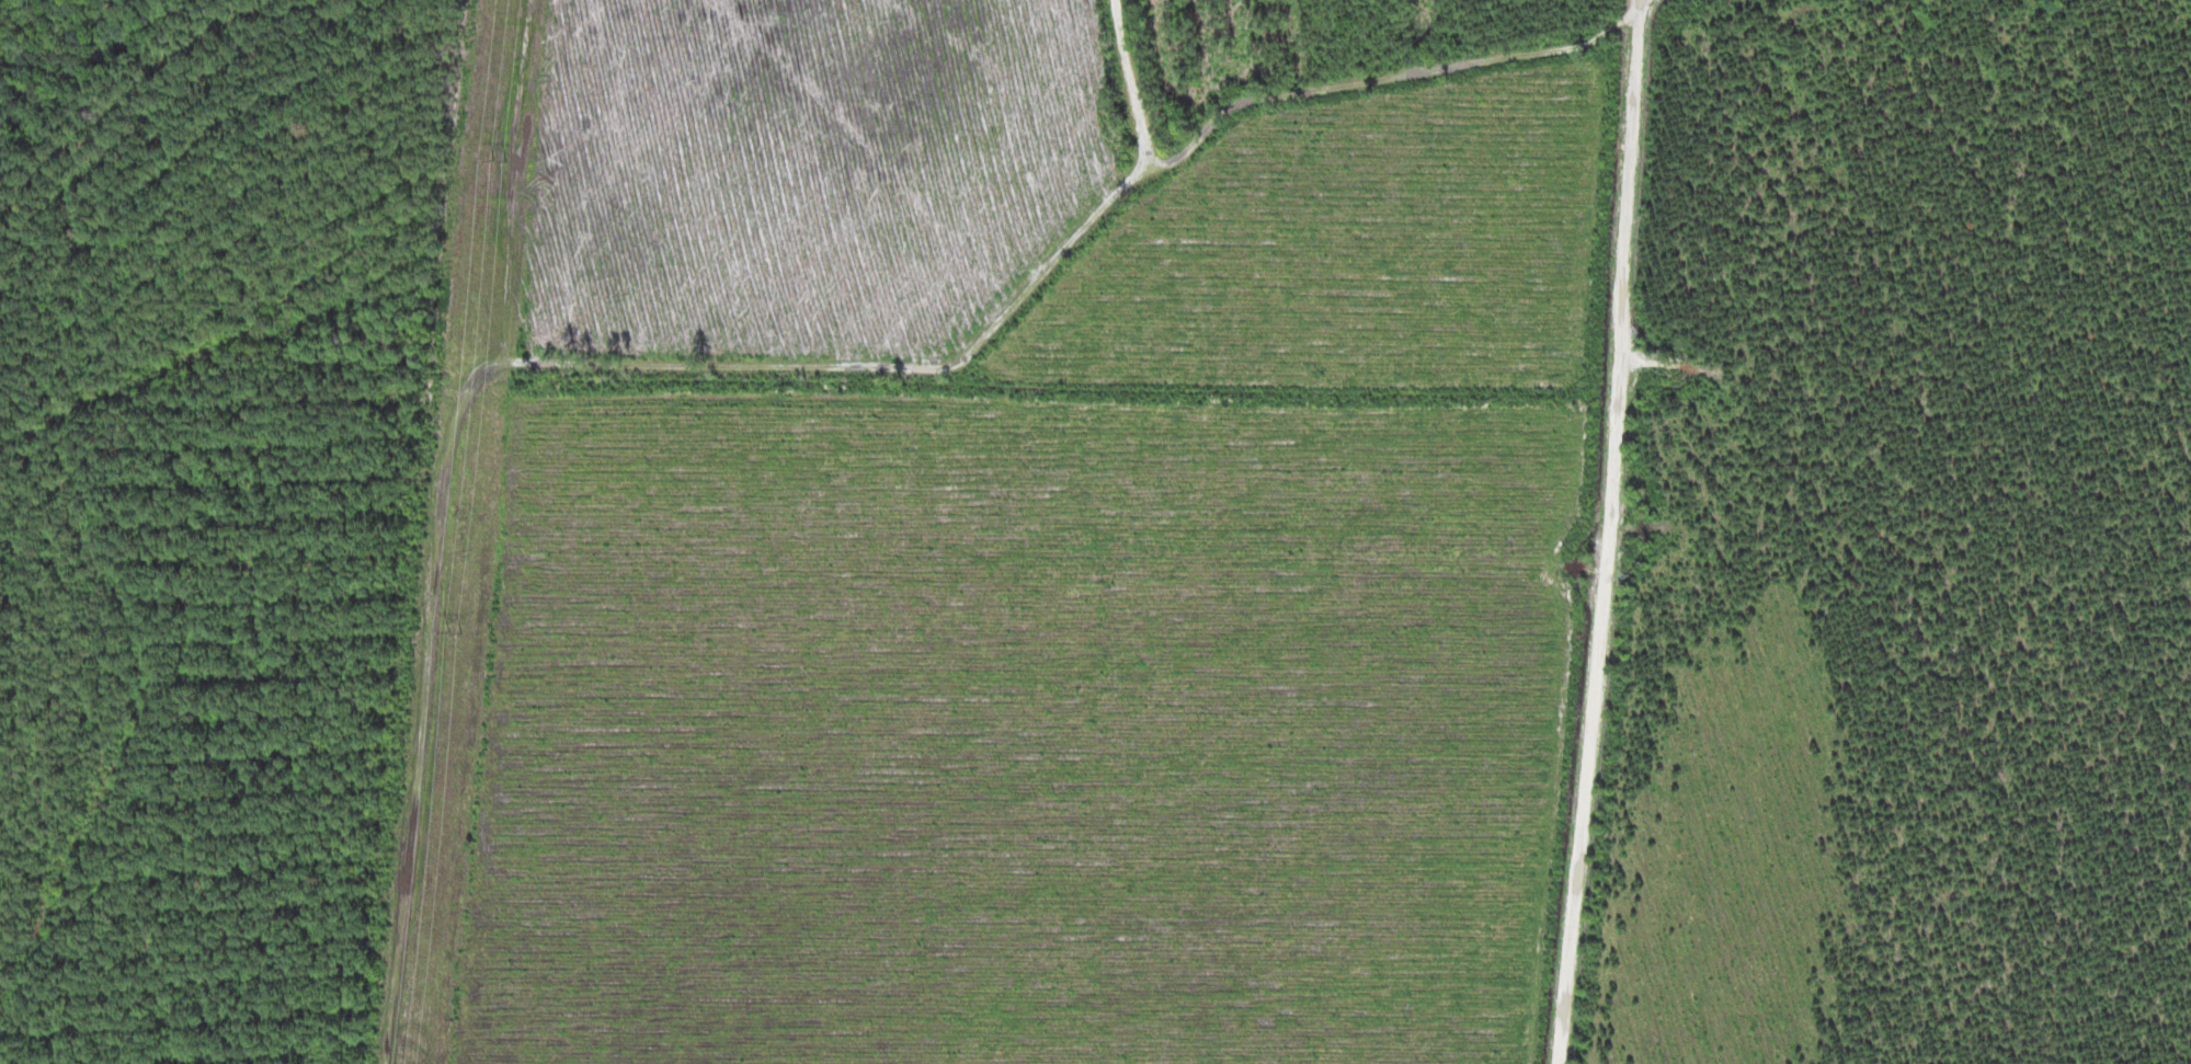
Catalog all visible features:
road: (1133, 78)
power tower: (498, 160)
power tower: (455, 632)
road: (1605, 753)

